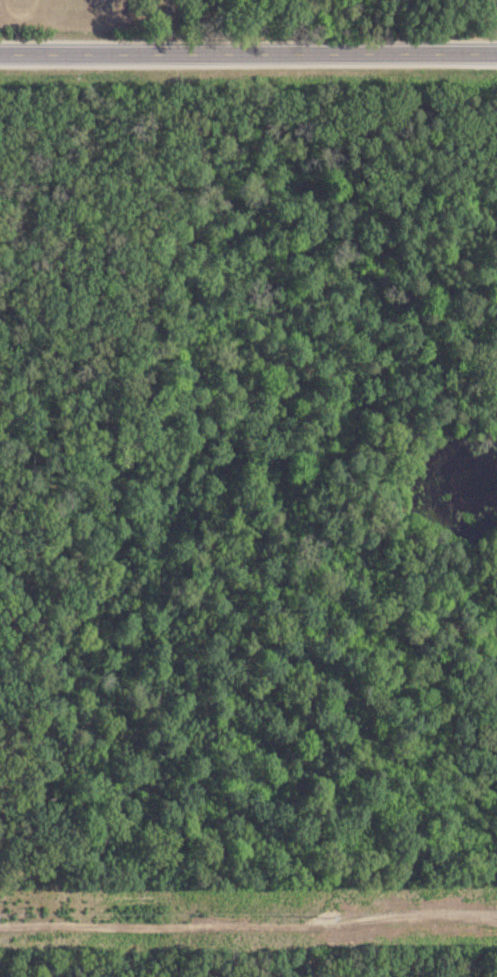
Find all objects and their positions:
road: (248, 59)

